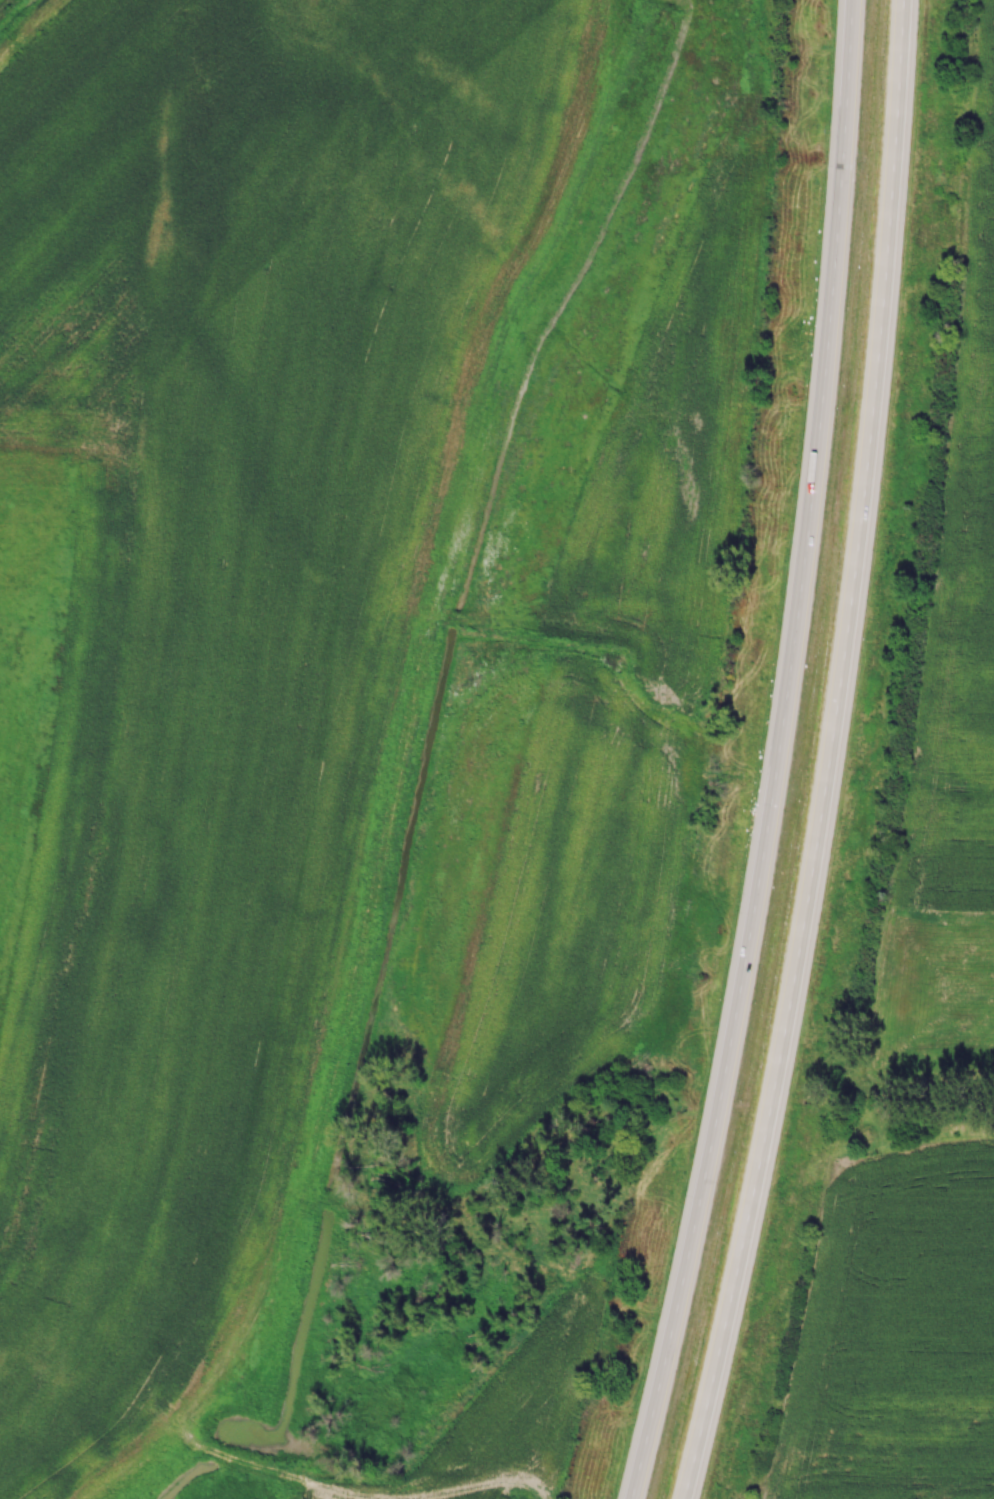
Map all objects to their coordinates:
road: (832, 755)
road: (783, 756)

